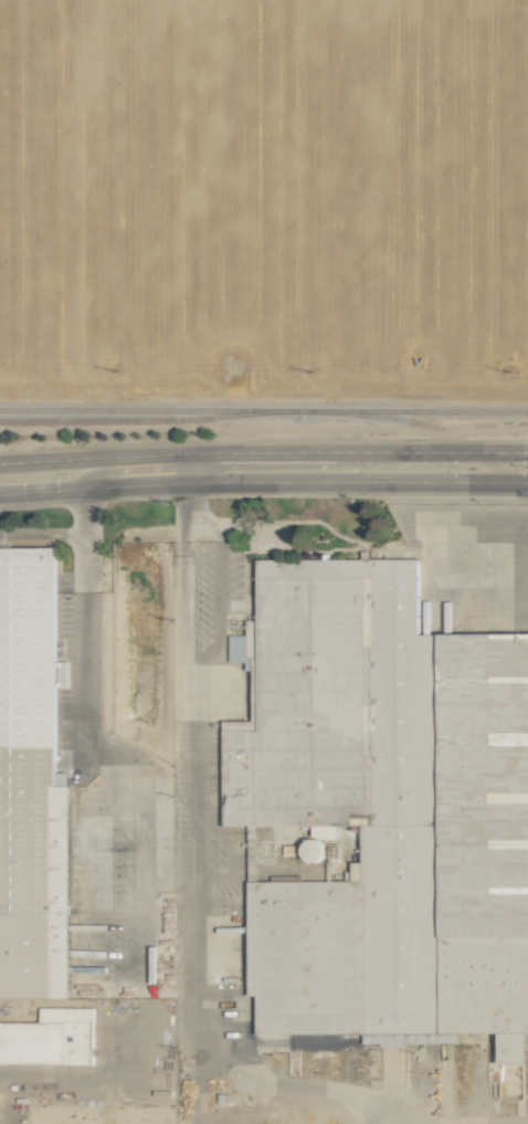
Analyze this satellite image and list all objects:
crop: (264, 245)
railway: (264, 409)
railway: (148, 420)
railway: (434, 429)
road: (263, 452)
road: (263, 480)
road: (189, 505)
building: (29, 552)
building: (384, 809)
building: (313, 850)
road: (199, 929)
building: (50, 1038)

